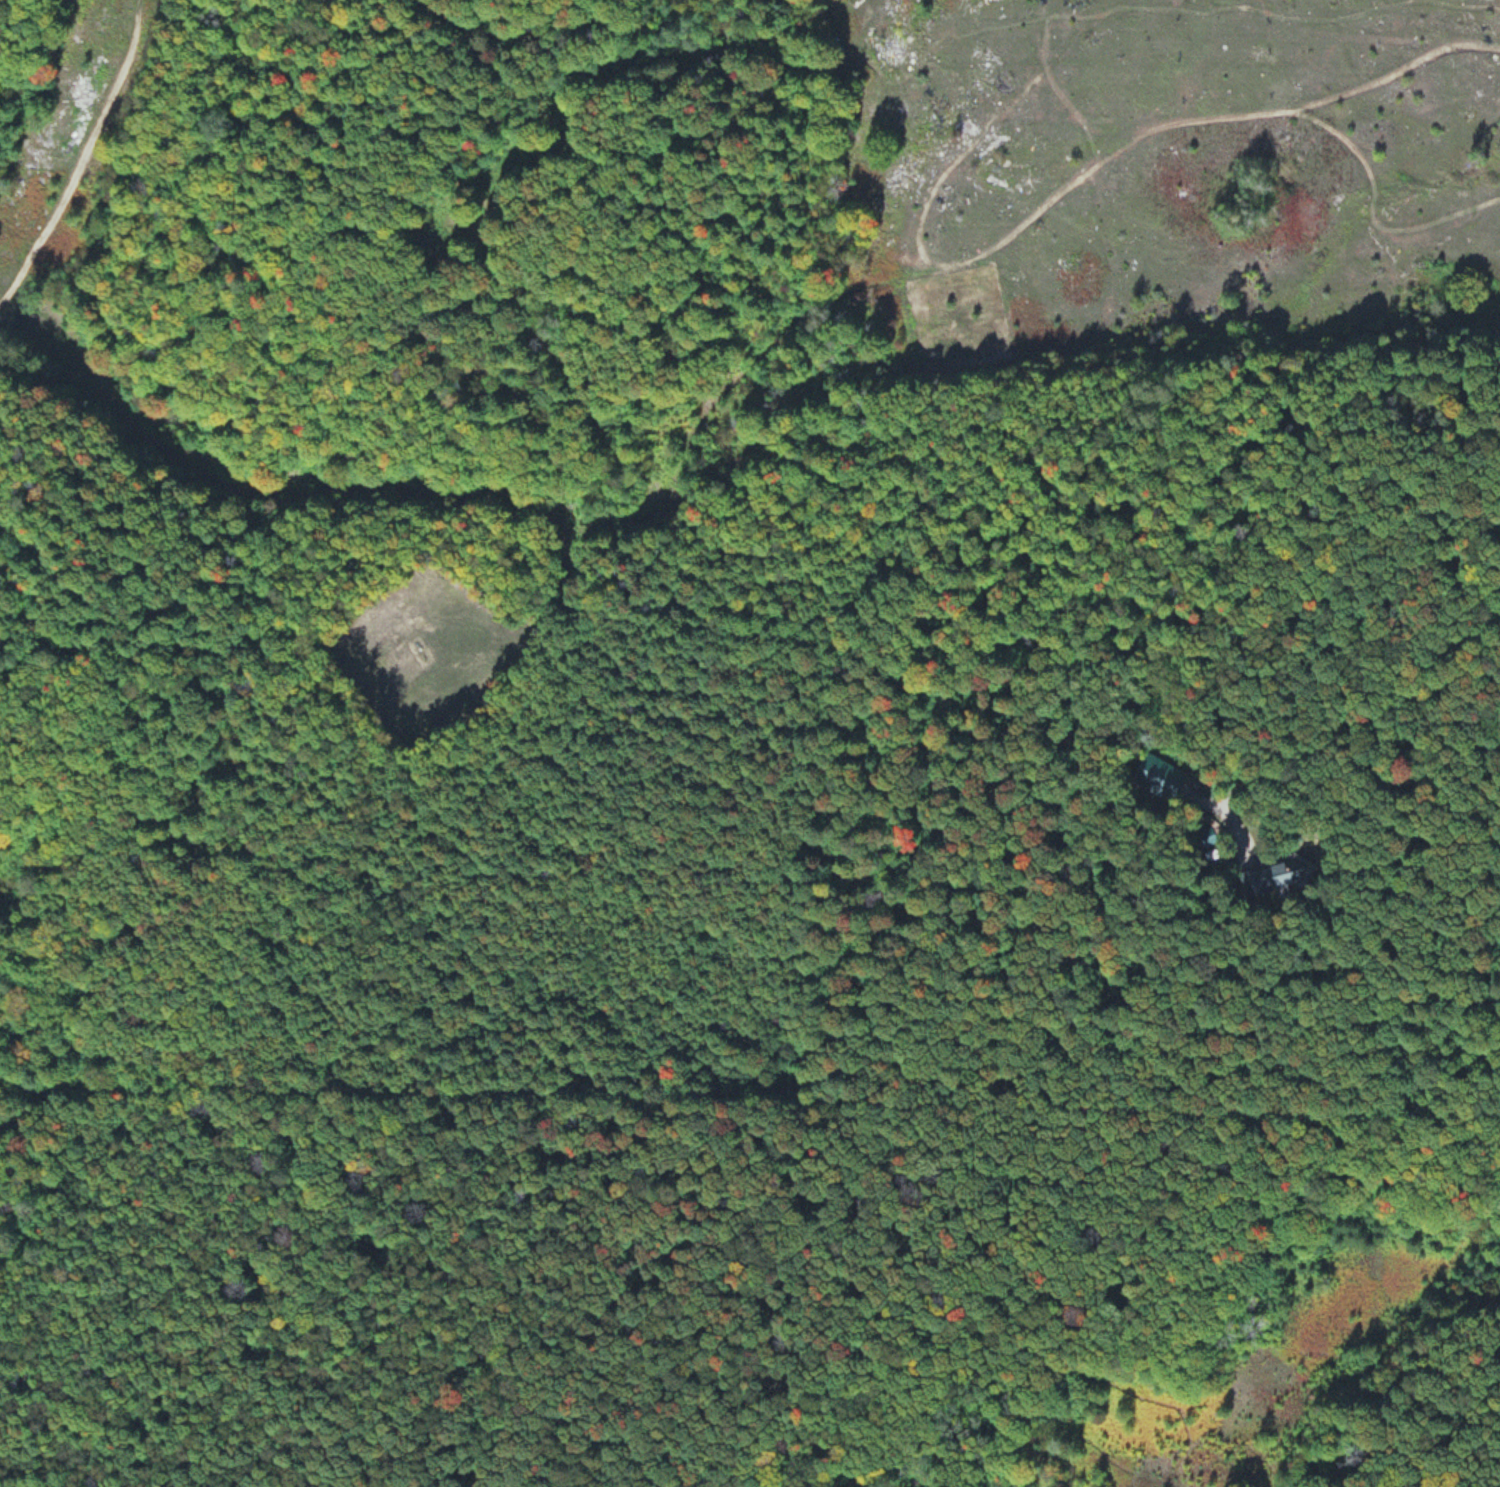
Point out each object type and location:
road: (976, 758)
building: (1271, 875)
road: (763, 1092)

